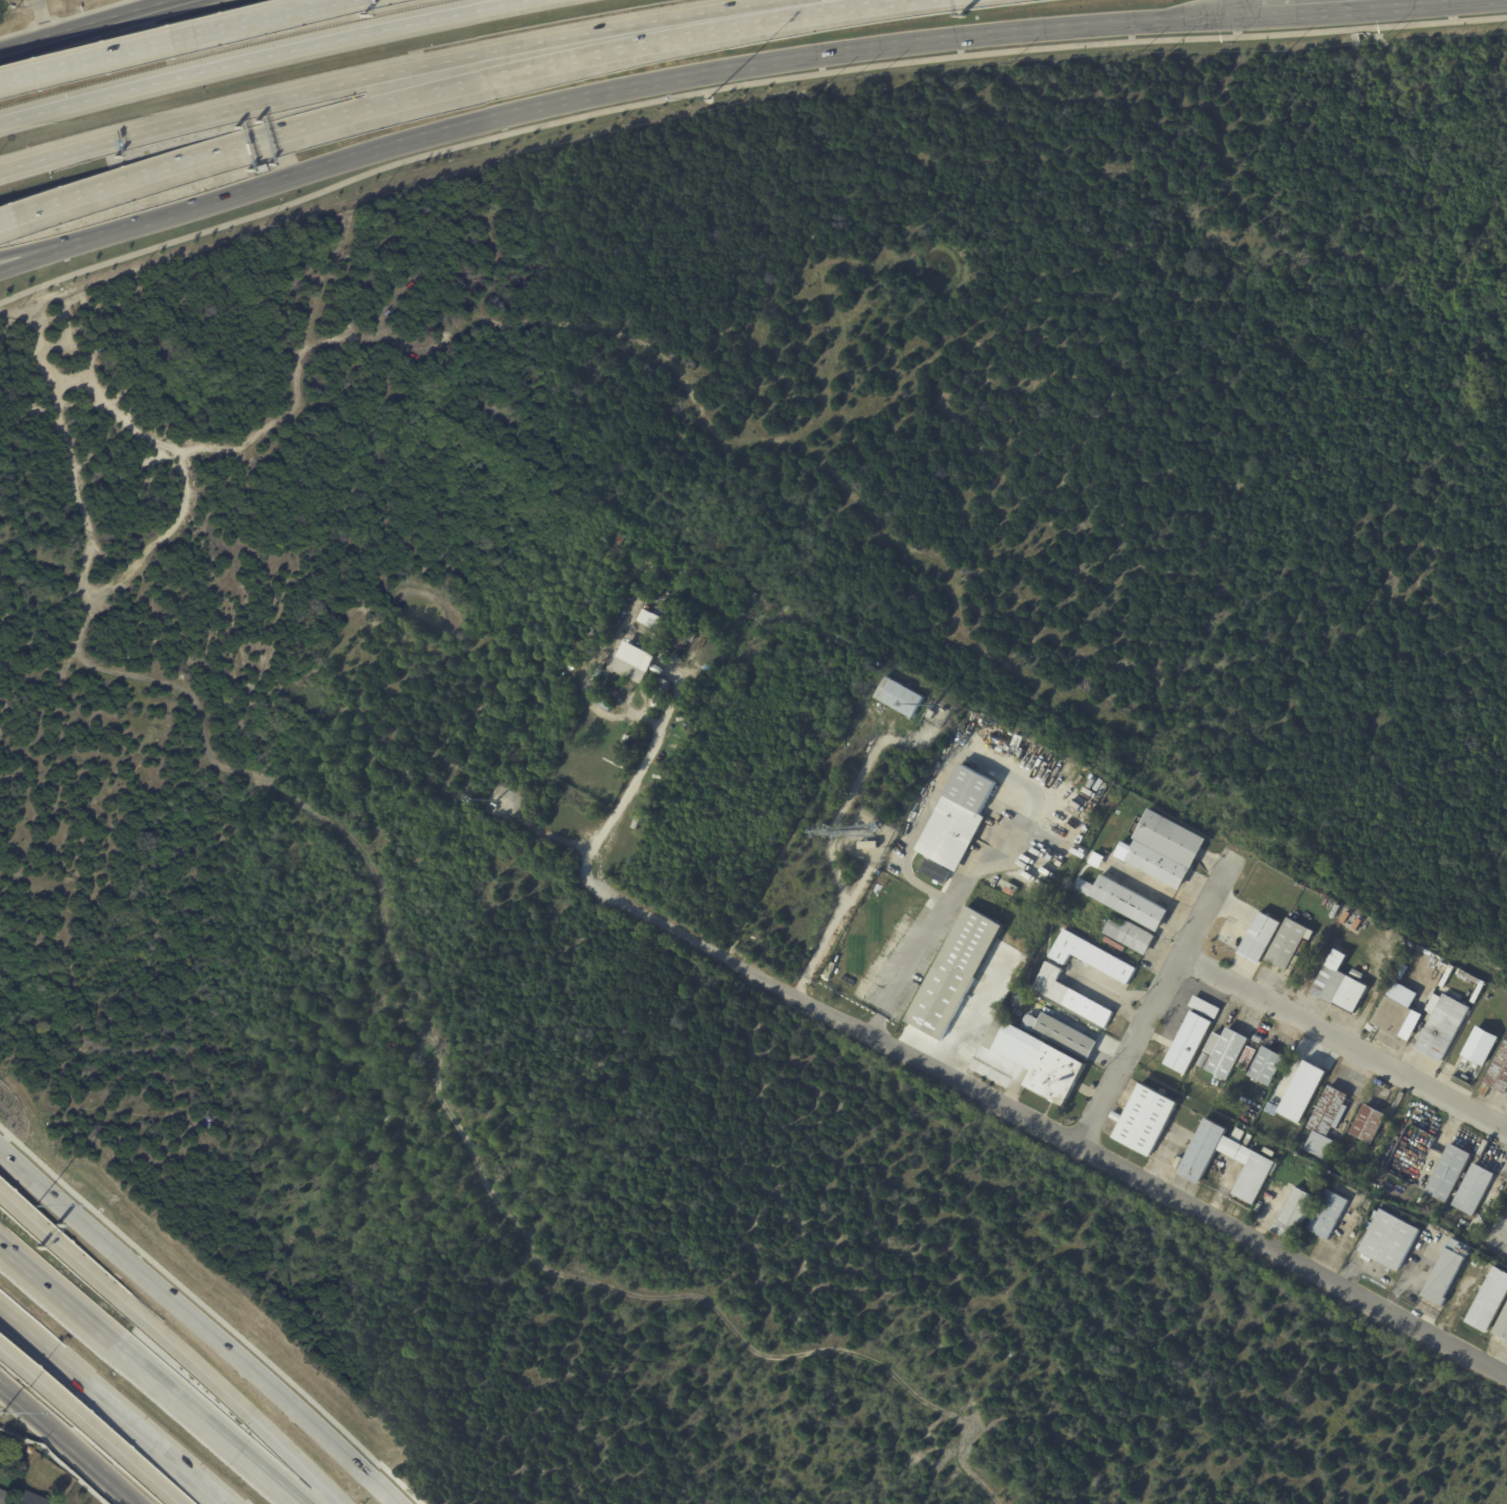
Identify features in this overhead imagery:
road: (1315, 4)
road: (757, 13)
road: (46, 18)
road: (115, 18)
road: (254, 20)
road: (401, 26)
road: (25, 44)
road: (25, 48)
road: (84, 62)
road: (654, 78)
road: (738, 83)
road: (137, 88)
road: (333, 90)
road: (340, 118)
road: (6, 216)
road: (36, 251)
road: (36, 258)
building: (655, 622)
building: (662, 628)
building: (679, 637)
road: (604, 652)
building: (663, 654)
building: (674, 659)
building: (627, 667)
building: (658, 682)
building: (749, 687)
building: (899, 698)
building: (604, 705)
building: (930, 714)
building: (1016, 742)
road: (1036, 807)
building: (958, 819)
building: (874, 828)
road: (828, 842)
building: (867, 846)
building: (1165, 850)
building: (935, 871)
road: (587, 875)
road: (857, 886)
building: (1125, 901)
building: (1130, 935)
building: (1259, 939)
building: (1287, 944)
building: (1091, 957)
building: (953, 973)
building: (1357, 975)
building: (1338, 986)
building: (850, 993)
building: (1069, 997)
building: (1488, 998)
road: (1156, 1000)
building: (1204, 1008)
building: (1392, 1018)
road: (973, 1019)
building: (1029, 1023)
building: (1443, 1029)
building: (1065, 1037)
building: (1188, 1043)
road: (1343, 1043)
building: (397, 1045)
building: (1481, 1047)
building: (1163, 1054)
building: (1224, 1054)
building: (1204, 1061)
building: (1466, 1062)
building: (1036, 1063)
building: (1266, 1067)
building: (1476, 1067)
building: (1499, 1074)
building: (1301, 1091)
building: (369, 1107)
building: (1328, 1113)
building: (1145, 1119)
building: (1367, 1125)
building: (1268, 1153)
building: (1248, 1156)
road: (1115, 1166)
building: (1448, 1174)
building: (1473, 1191)
building: (1296, 1213)
building: (1328, 1215)
road: (1500, 1234)
building: (1389, 1241)
building: (1447, 1272)
road: (58, 1298)
building: (1489, 1302)
road: (213, 1310)
road: (197, 1324)
building: (1502, 1326)
road: (169, 1347)
road: (40, 1384)
road: (8, 1387)
road: (8, 1391)
road: (111, 1405)
road: (207, 1426)
road: (76, 1450)
road: (129, 1461)
building: (4, 1496)
building: (28, 1499)
building: (52, 1502)

